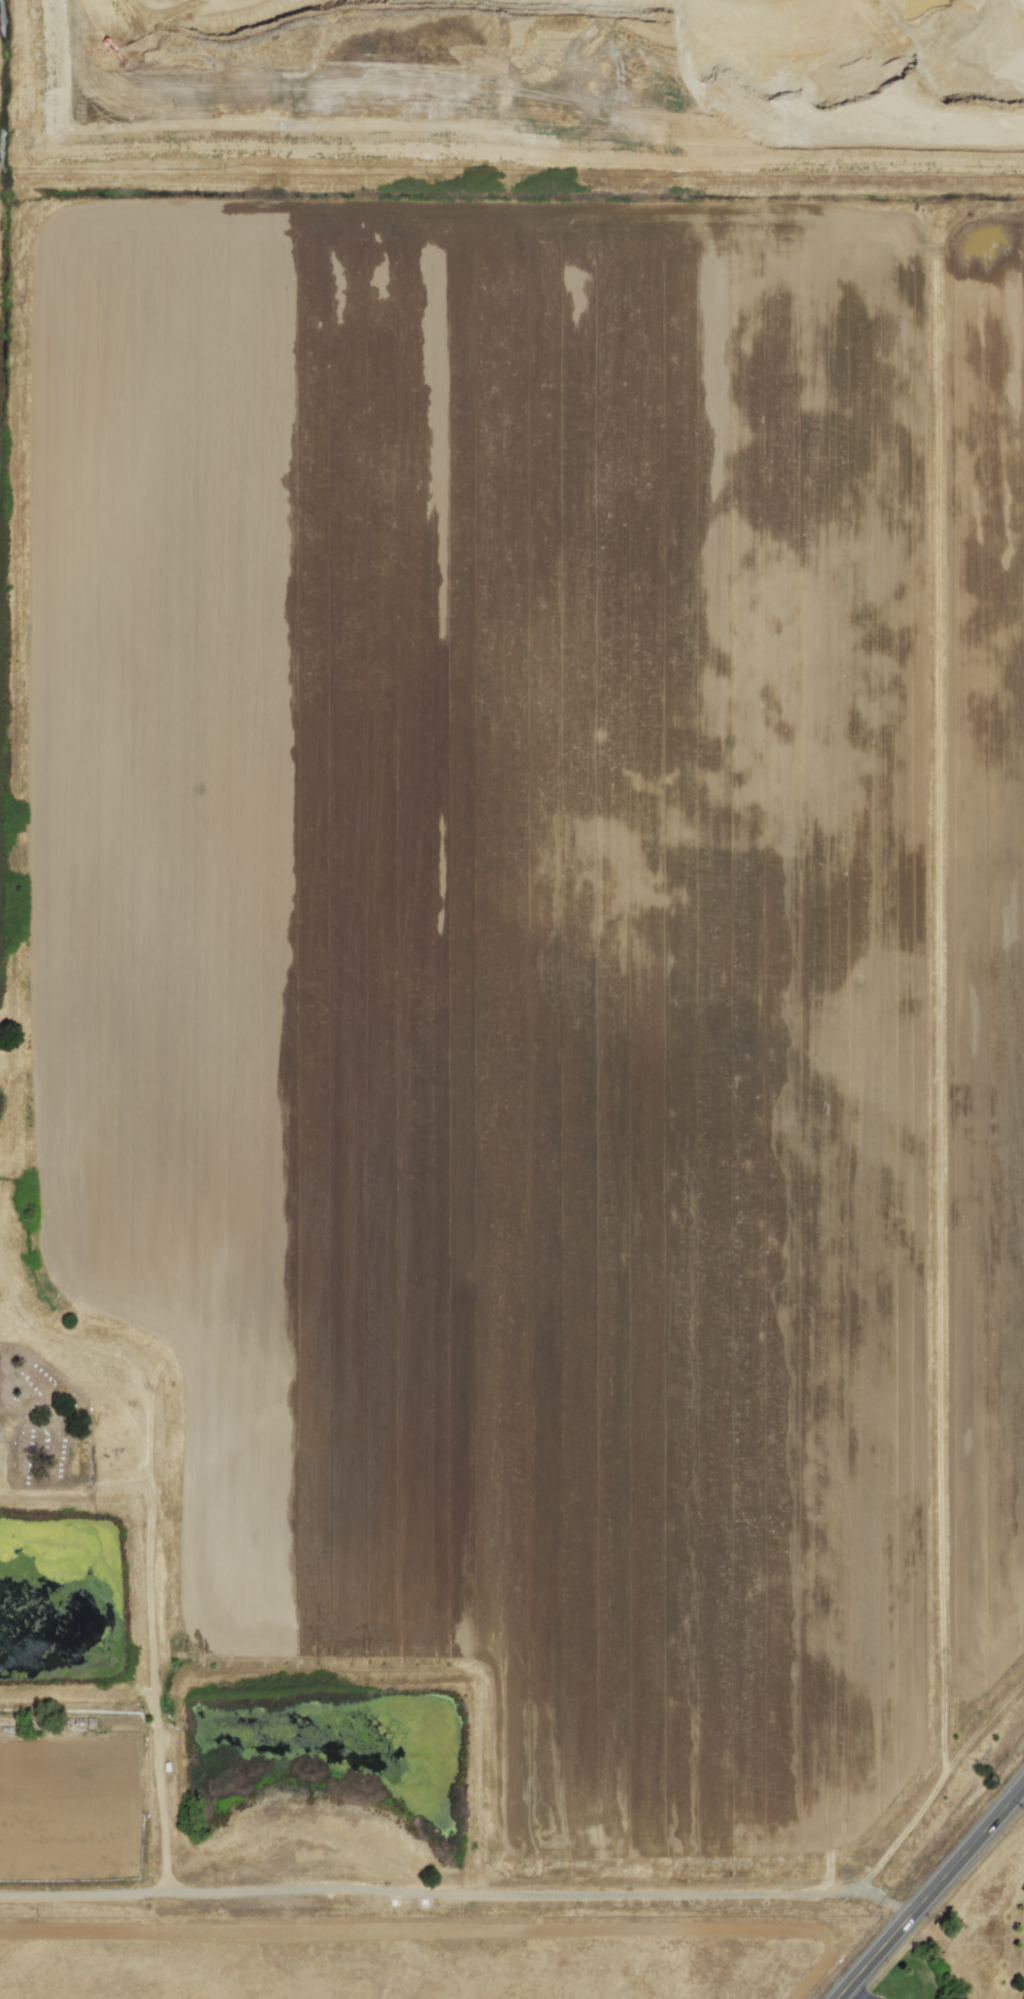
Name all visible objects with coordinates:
road: (930, 1886)
road: (847, 1995)

